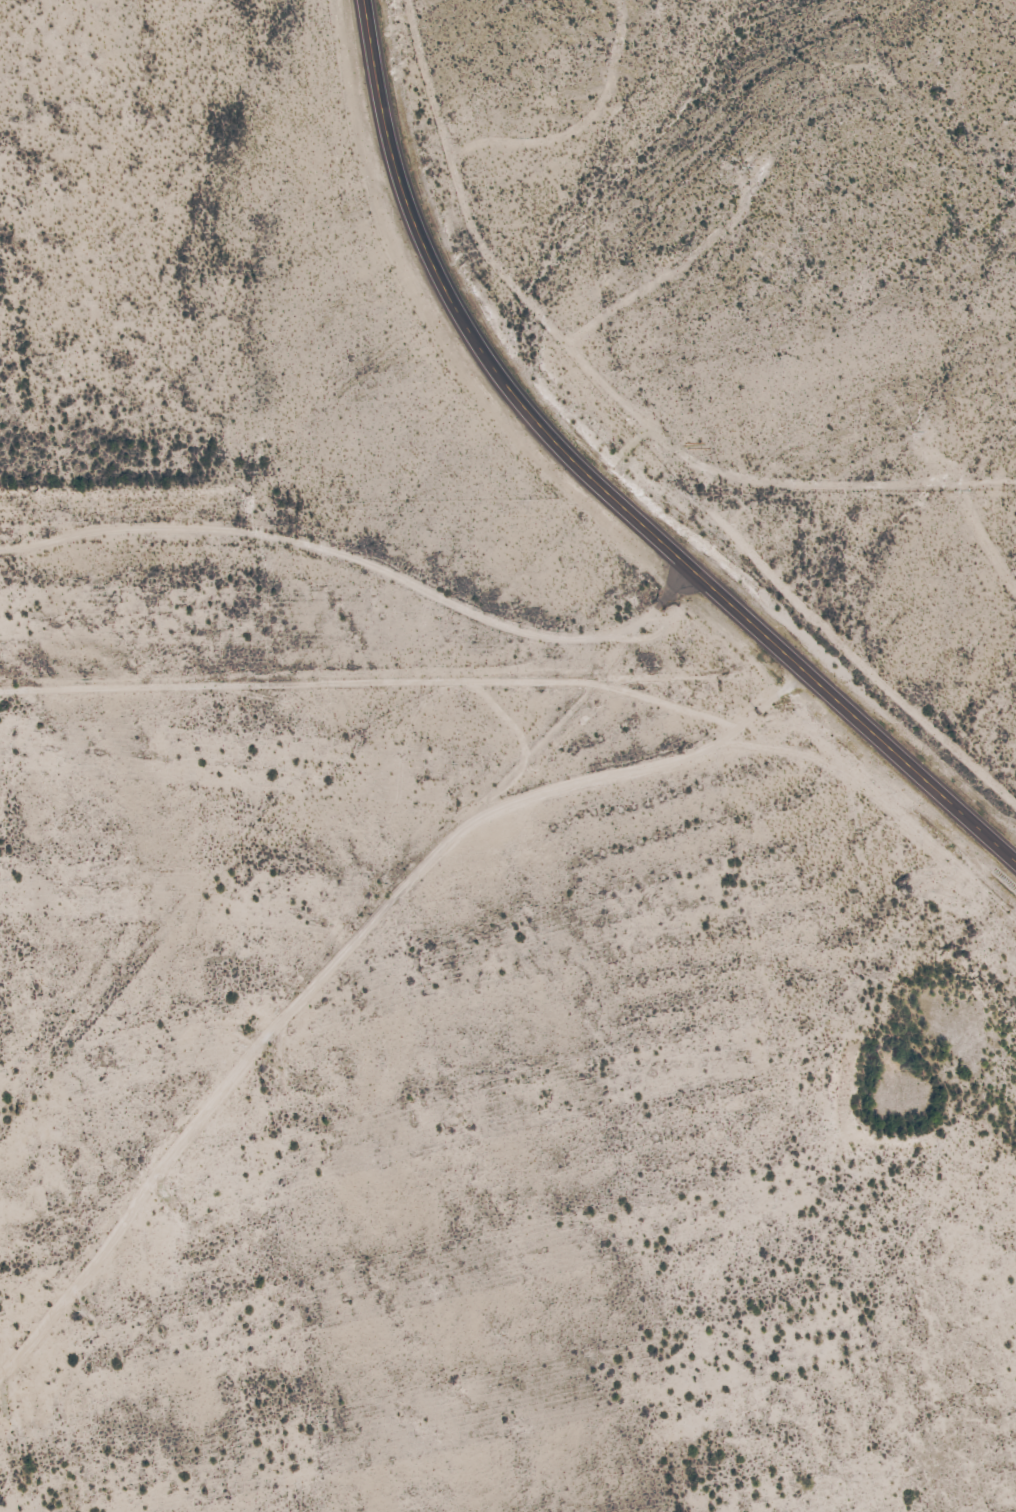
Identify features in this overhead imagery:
road: (795, 472)
road: (602, 489)
road: (364, 563)
road: (350, 980)

